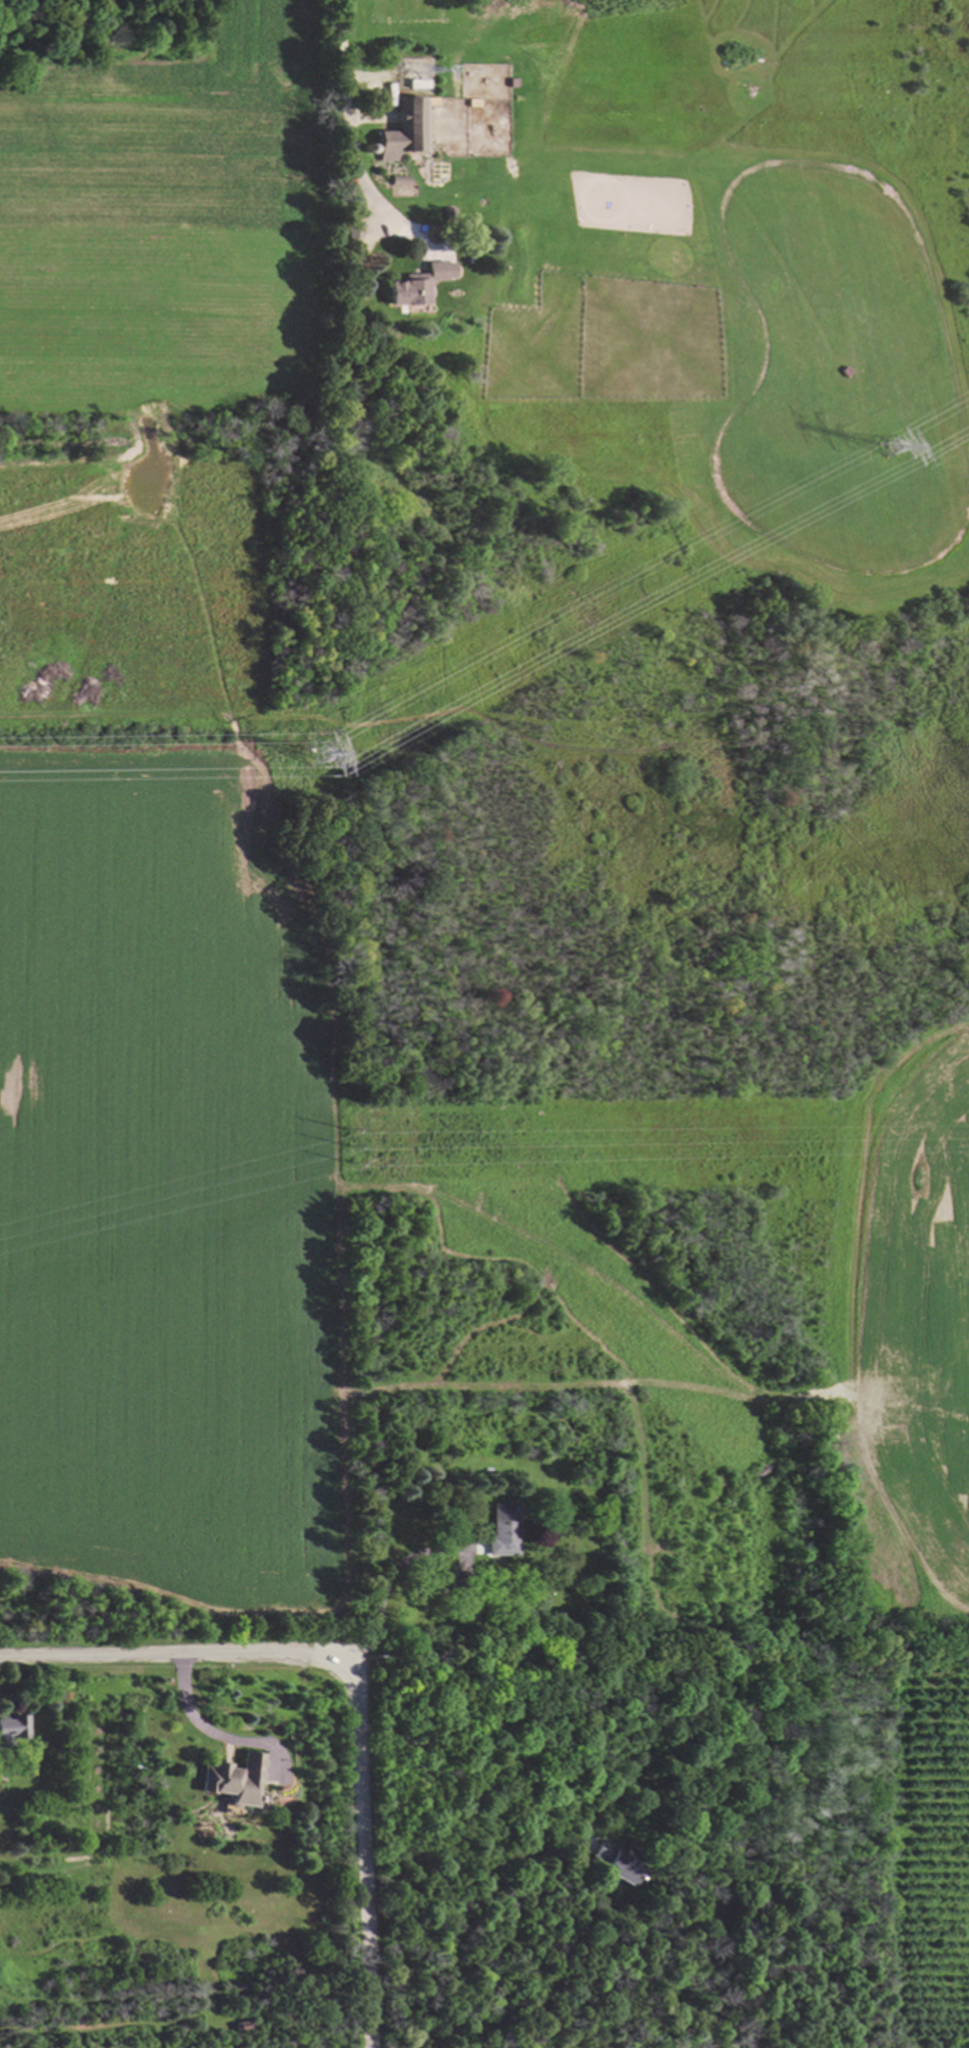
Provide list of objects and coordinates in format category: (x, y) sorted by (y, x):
road: (349, 121)
building: (404, 131)
building: (416, 285)
power tower: (890, 445)
power tower: (319, 756)
power tower: (349, 1145)
building: (501, 1530)
road: (387, 1587)
road: (176, 1659)
building: (16, 1727)
road: (211, 1732)
building: (239, 1780)
road: (354, 1863)
building: (617, 1864)
road: (475, 1913)

